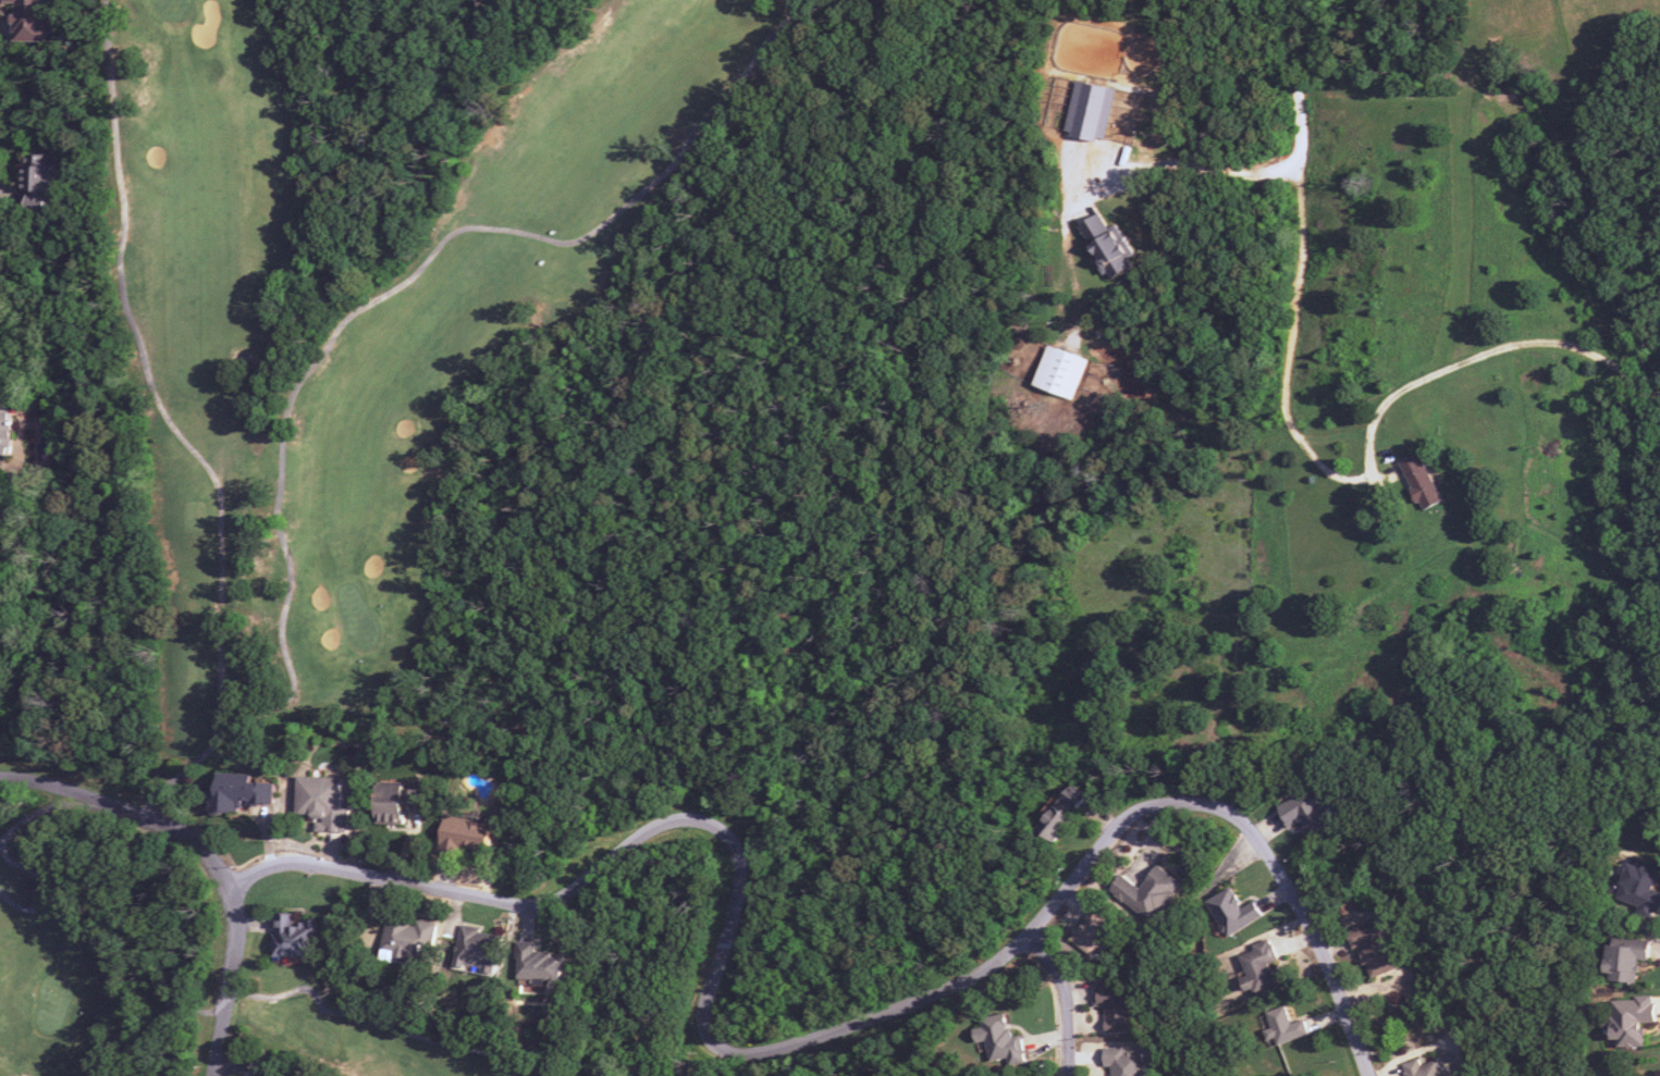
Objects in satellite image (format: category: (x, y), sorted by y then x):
building: (32, 21)
building: (1090, 111)
road: (1191, 163)
building: (38, 178)
road: (1304, 215)
building: (1106, 246)
building: (1060, 372)
park: (335, 383)
building: (4, 421)
building: (1419, 482)
road: (958, 519)
building: (238, 793)
building: (321, 803)
building: (396, 804)
building: (1306, 811)
building: (1061, 813)
building: (467, 834)
road: (208, 857)
building: (1147, 893)
building: (1232, 912)
building: (1092, 933)
building: (294, 937)
building: (408, 938)
road: (723, 944)
building: (1375, 948)
building: (479, 949)
building: (1624, 960)
building: (537, 964)
building: (1258, 968)
road: (1063, 999)
building: (1116, 1007)
road: (689, 1018)
building: (1631, 1022)
building: (1283, 1026)
building: (999, 1040)
road: (789, 1044)
building: (1124, 1062)
building: (1423, 1068)
building: (270, 1074)
building: (286, 1075)
building: (1451, 1075)

